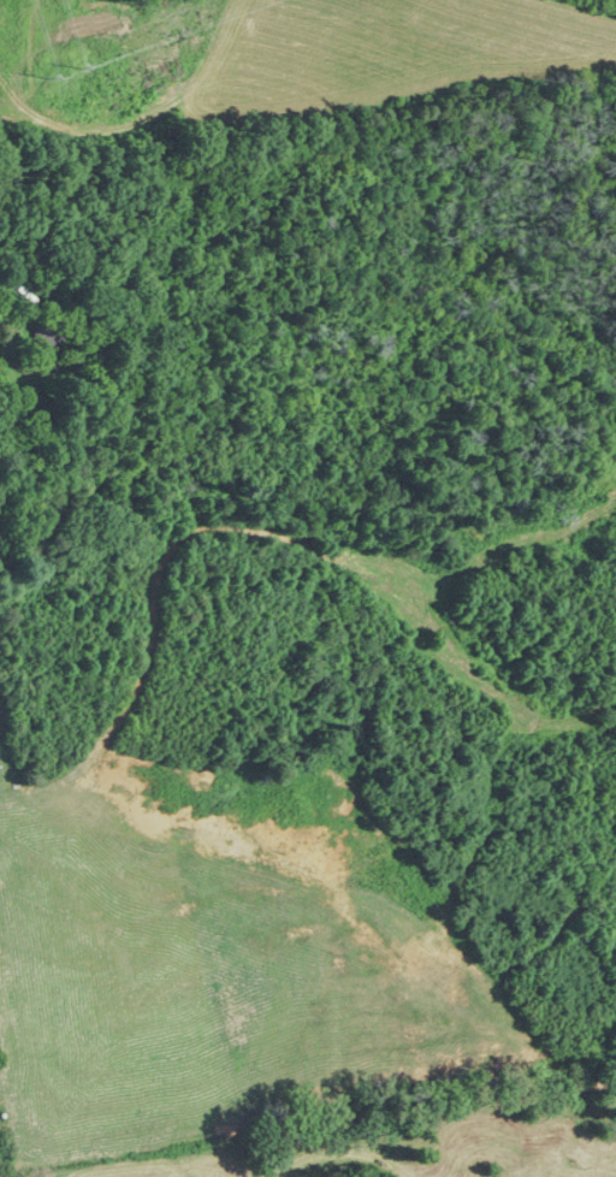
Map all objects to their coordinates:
building: (46, 333)

